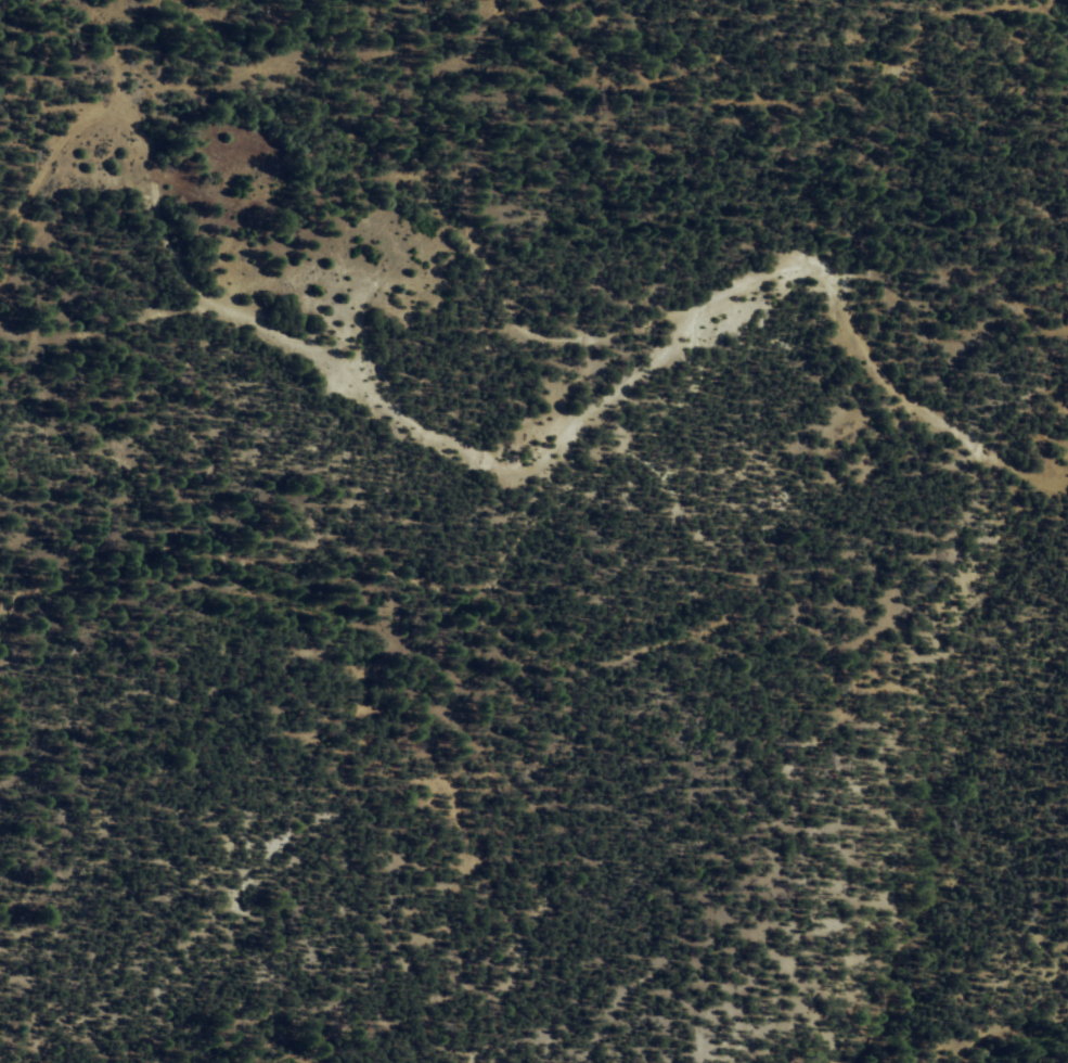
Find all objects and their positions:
road: (522, 456)

